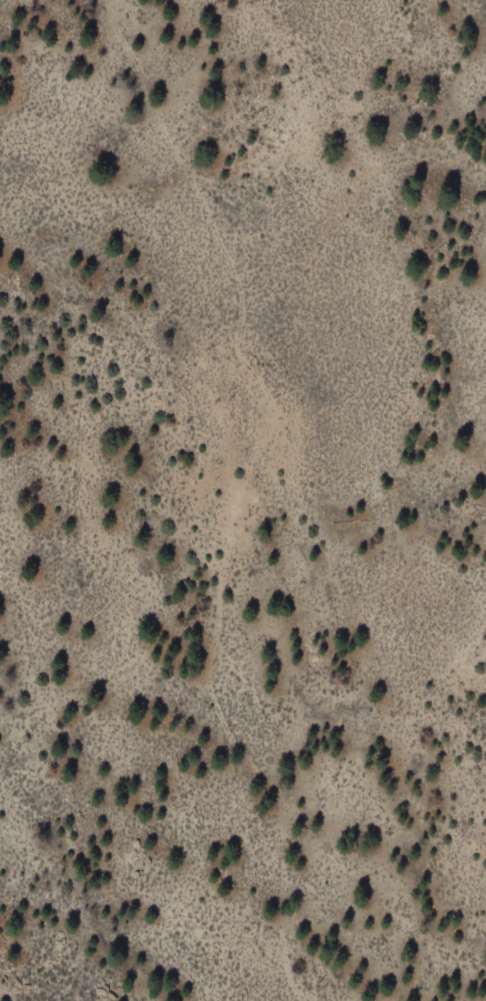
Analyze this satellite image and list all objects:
road: (219, 726)

